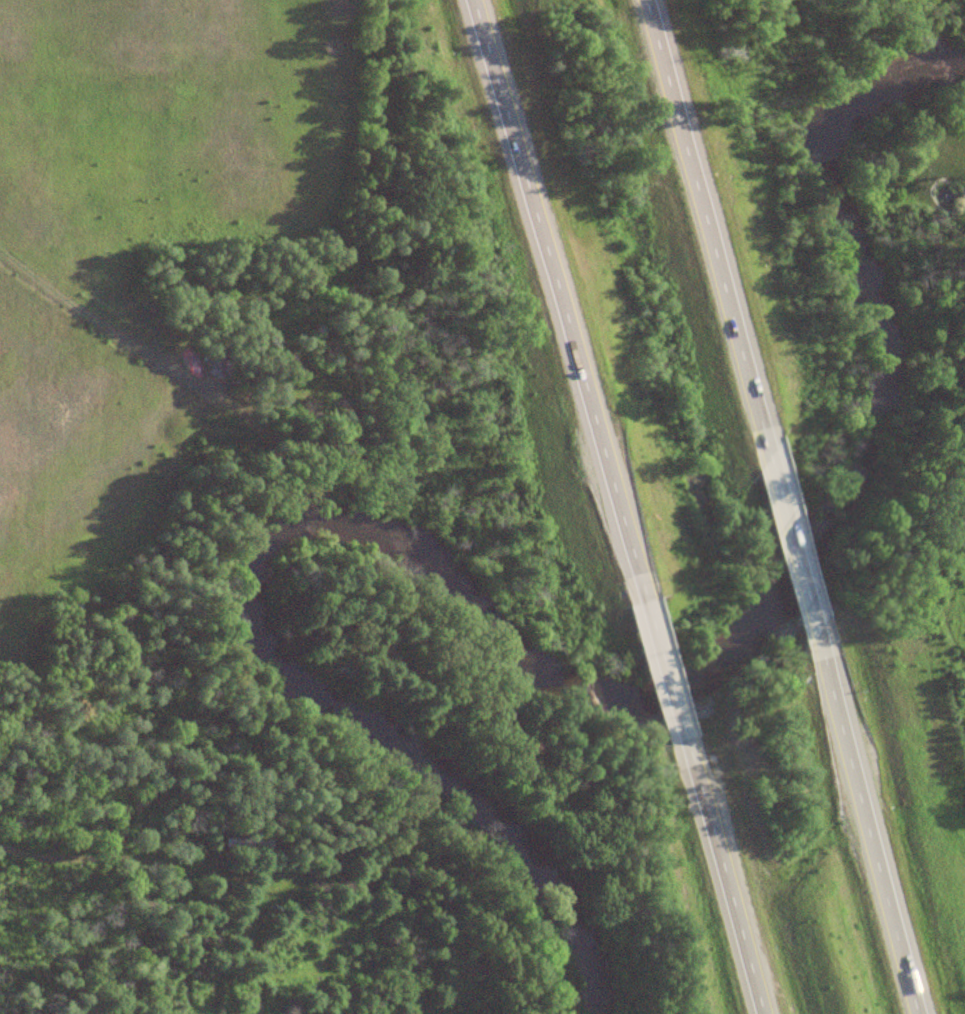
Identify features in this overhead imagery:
road: (706, 226)
road: (554, 299)
building: (218, 360)
road: (795, 540)
river: (539, 663)
road: (670, 681)
road: (865, 821)
road: (729, 888)

